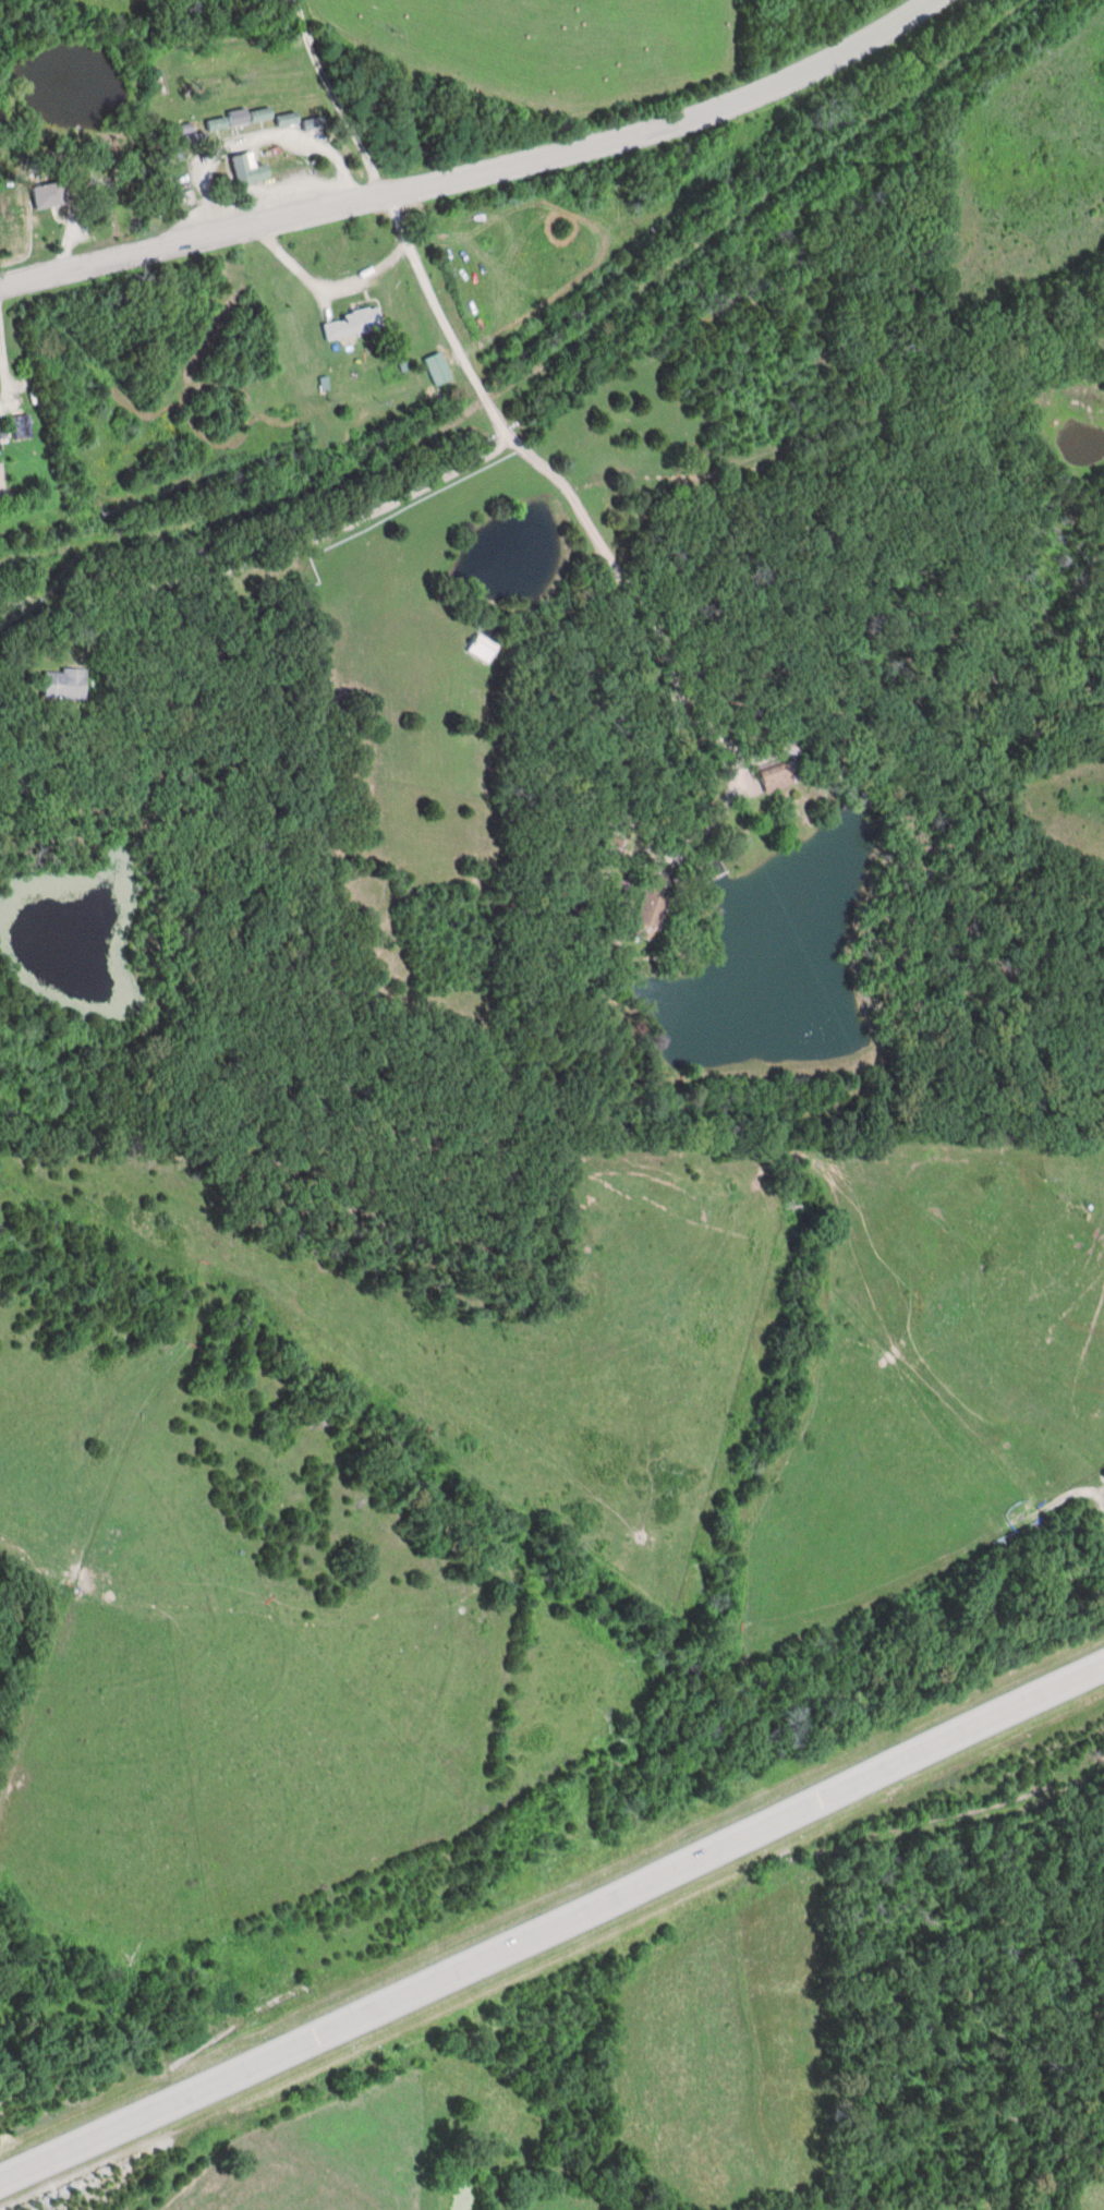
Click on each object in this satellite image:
road: (333, 98)
building: (248, 118)
building: (287, 120)
building: (314, 124)
building: (217, 125)
building: (194, 141)
building: (248, 171)
road: (478, 171)
building: (48, 196)
building: (352, 325)
railway: (553, 352)
building: (438, 369)
road: (407, 493)
building: (483, 649)
building: (63, 685)
road: (171, 686)
road: (408, 759)
building: (776, 778)
building: (650, 911)
road: (553, 1929)

